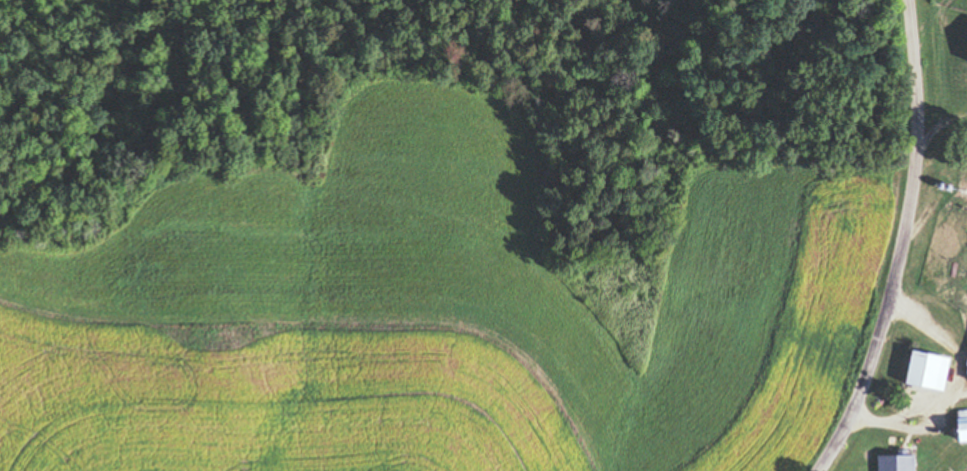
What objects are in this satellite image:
building: (965, 61)
road: (901, 243)
building: (921, 374)
building: (956, 431)
building: (890, 463)

